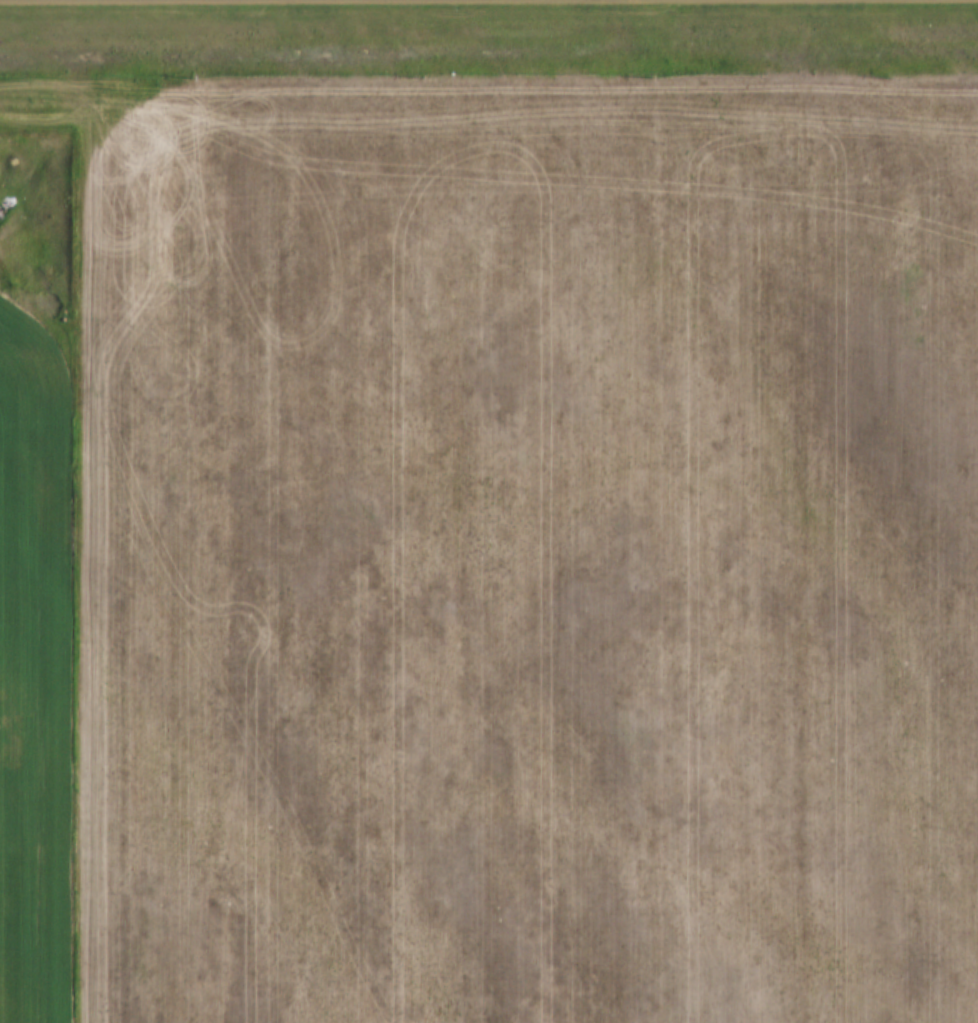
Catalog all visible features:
road: (32, 173)

